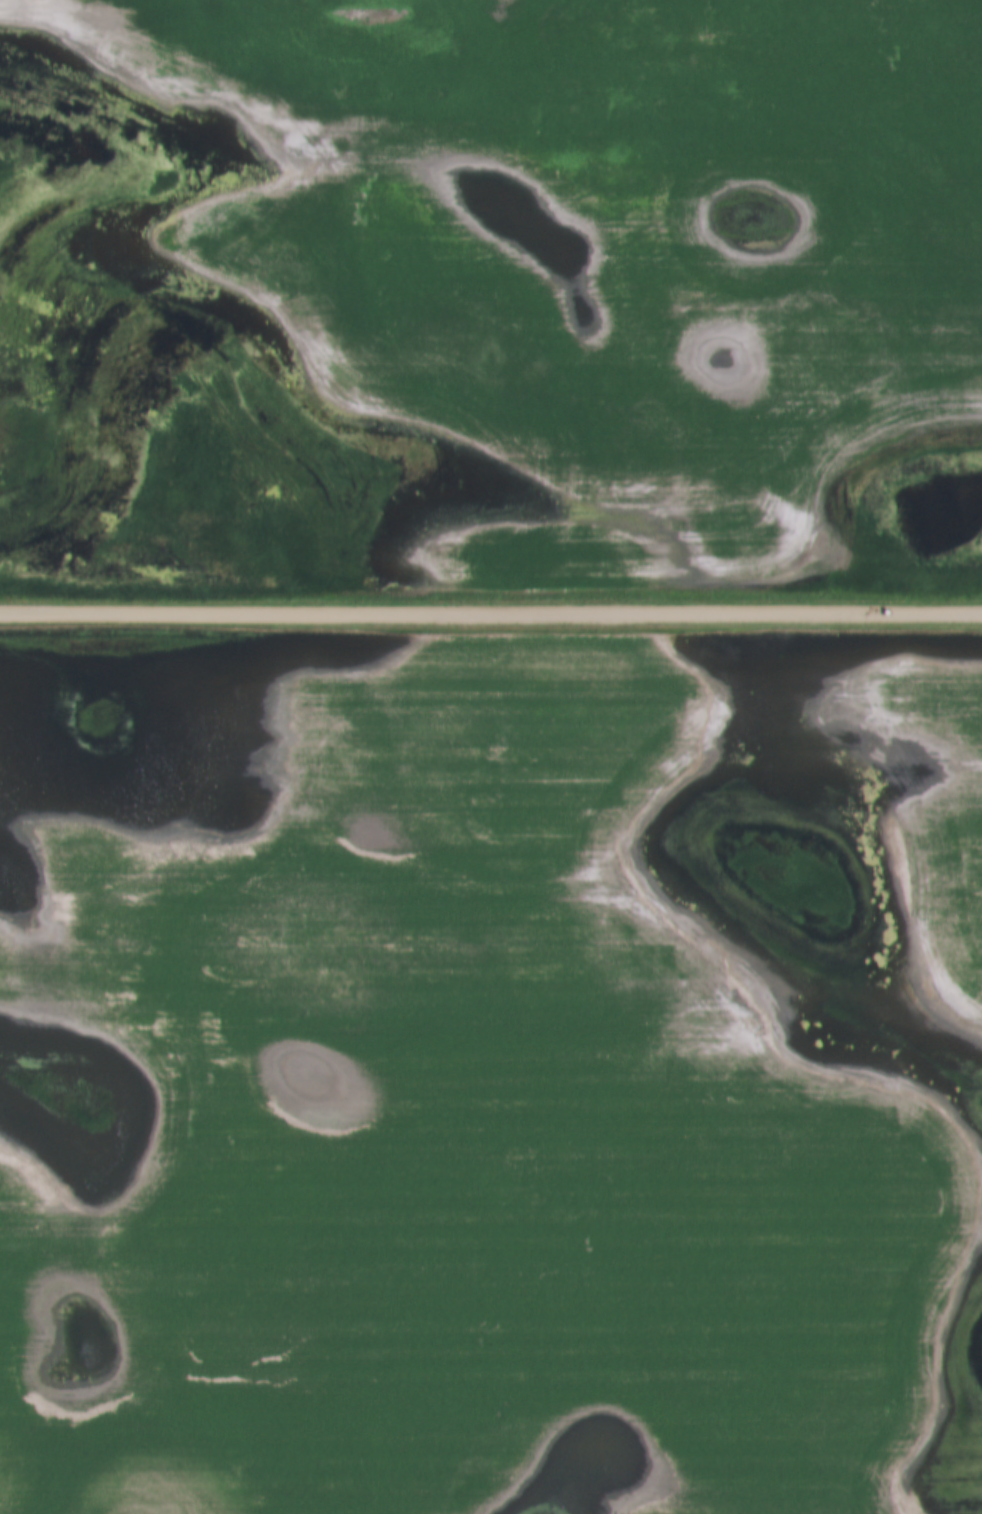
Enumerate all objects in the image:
road: (490, 617)

